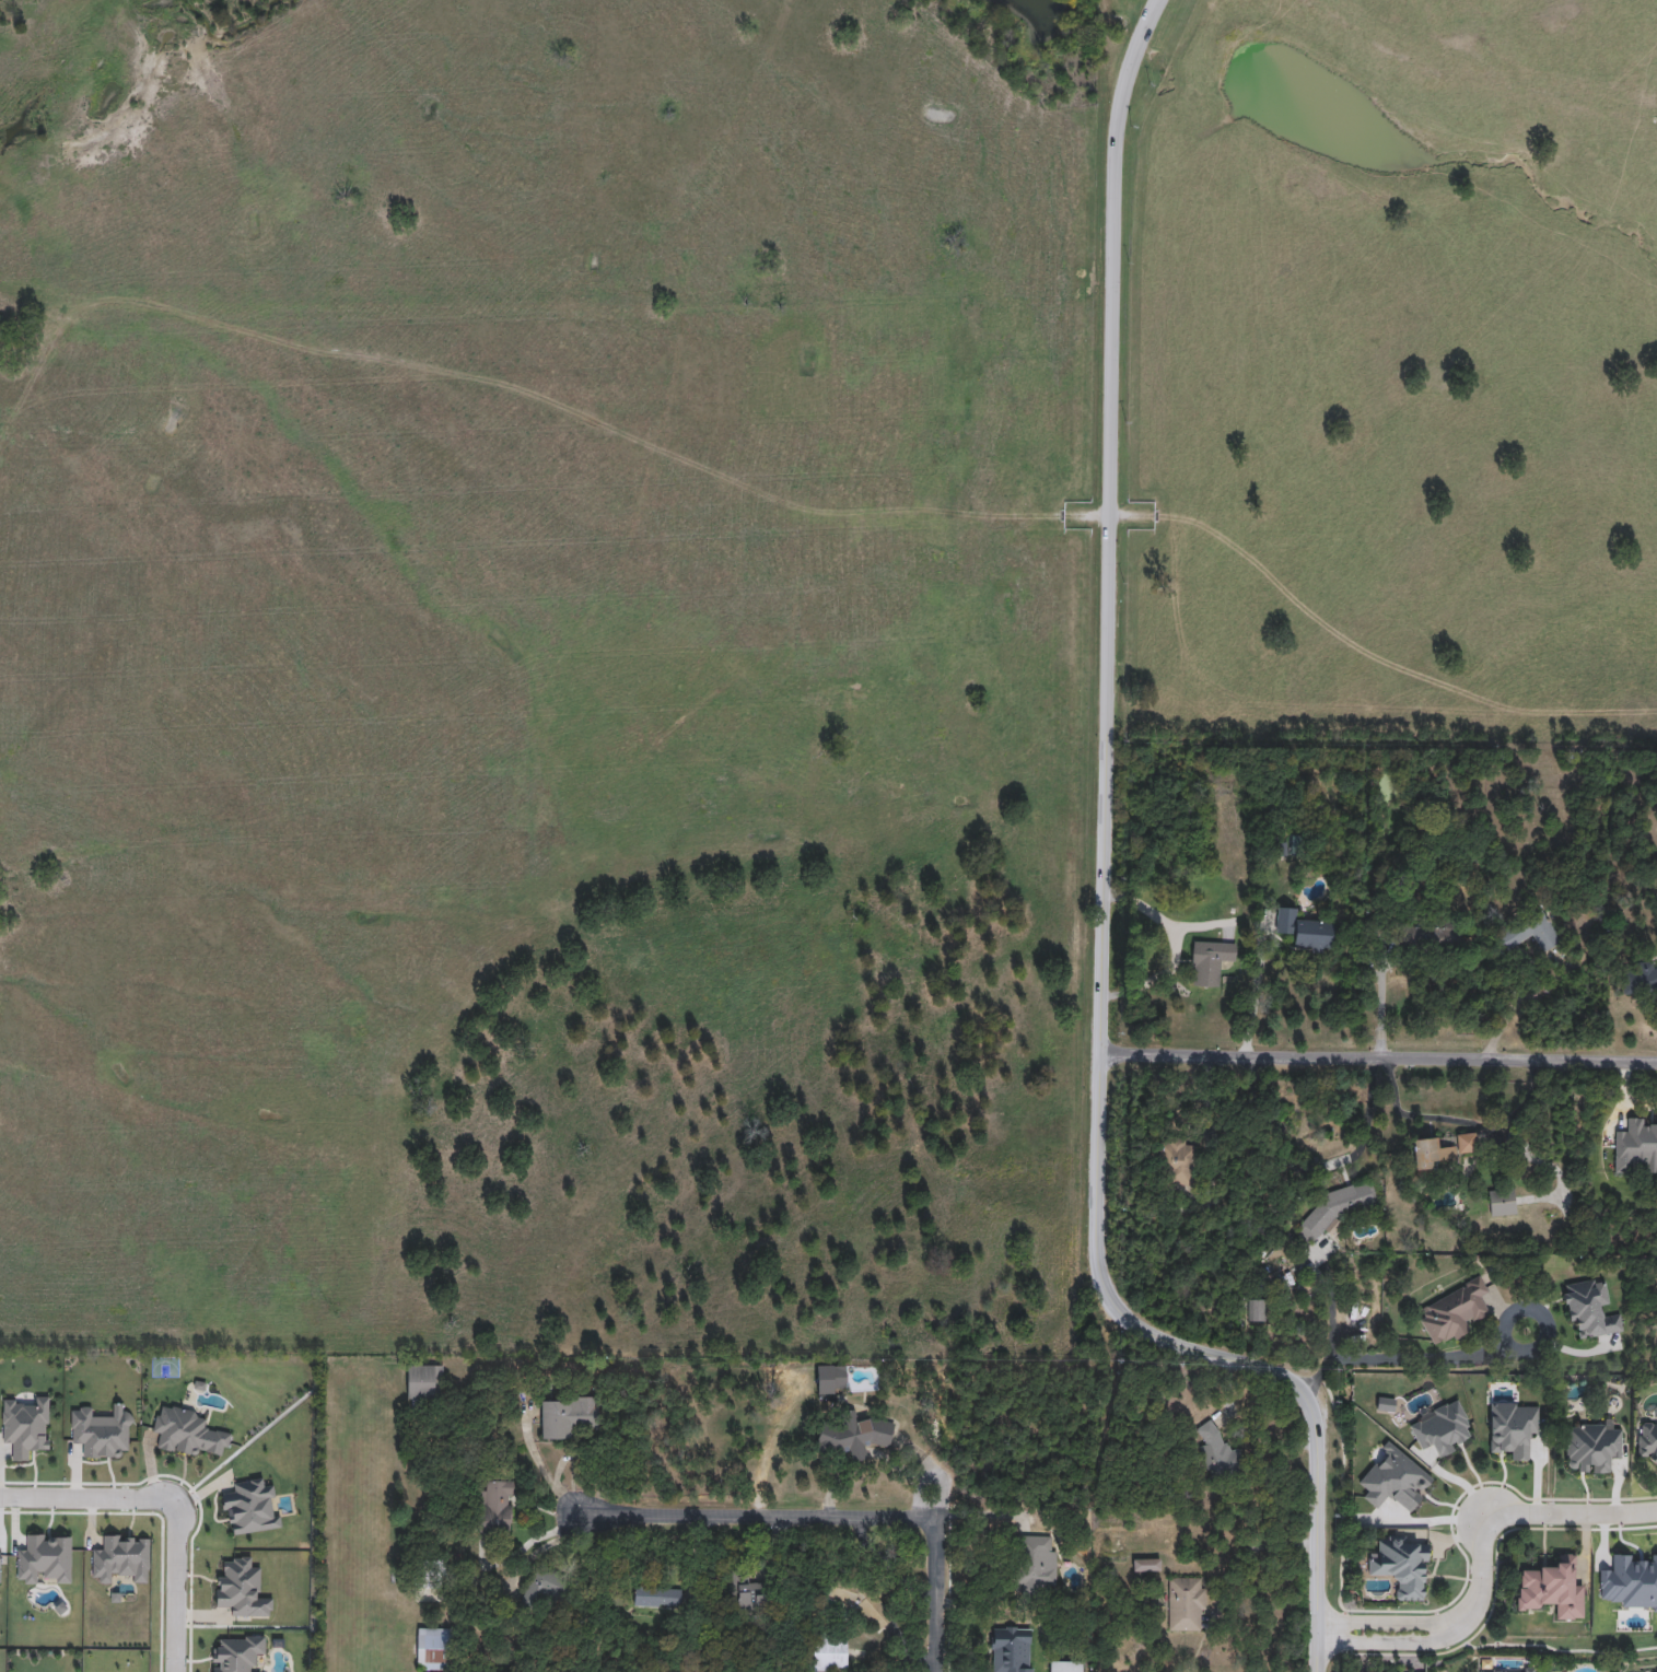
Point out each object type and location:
road: (1101, 898)
road: (1154, 920)
building: (1306, 932)
building: (1527, 933)
building: (1438, 936)
building: (1210, 962)
building: (1640, 981)
road: (1262, 998)
road: (1380, 1004)
road: (1515, 1015)
road: (1377, 1057)
road: (1366, 1116)
road: (1459, 1124)
building: (1636, 1147)
building: (1439, 1153)
building: (1176, 1164)
building: (1502, 1204)
building: (1589, 1309)
road: (1332, 1310)
building: (1257, 1311)
building: (1454, 1311)
road: (1410, 1358)
building: (832, 1380)
building: (424, 1382)
building: (570, 1417)
building: (1440, 1428)
road: (1244, 1433)
building: (853, 1434)
building: (1647, 1441)
building: (1592, 1447)
building: (1216, 1451)
road: (864, 1454)
road: (564, 1462)
road: (541, 1466)
road: (930, 1474)
road: (89, 1501)
building: (493, 1507)
road: (1509, 1515)
road: (755, 1516)
airport runway: (354, 1523)
road: (530, 1542)
road: (540, 1550)
road: (1247, 1555)
road: (987, 1558)
building: (1146, 1565)
building: (1035, 1566)
road: (885, 1567)
building: (1402, 1567)
building: (431, 1576)
road: (177, 1588)
building: (1550, 1589)
building: (744, 1591)
building: (547, 1594)
road: (936, 1594)
building: (657, 1595)
building: (859, 1603)
building: (1187, 1604)
road: (1380, 1623)
road: (1381, 1645)
building: (439, 1649)
building: (1012, 1651)
building: (830, 1652)
building: (1065, 1667)
building: (1505, 1670)

